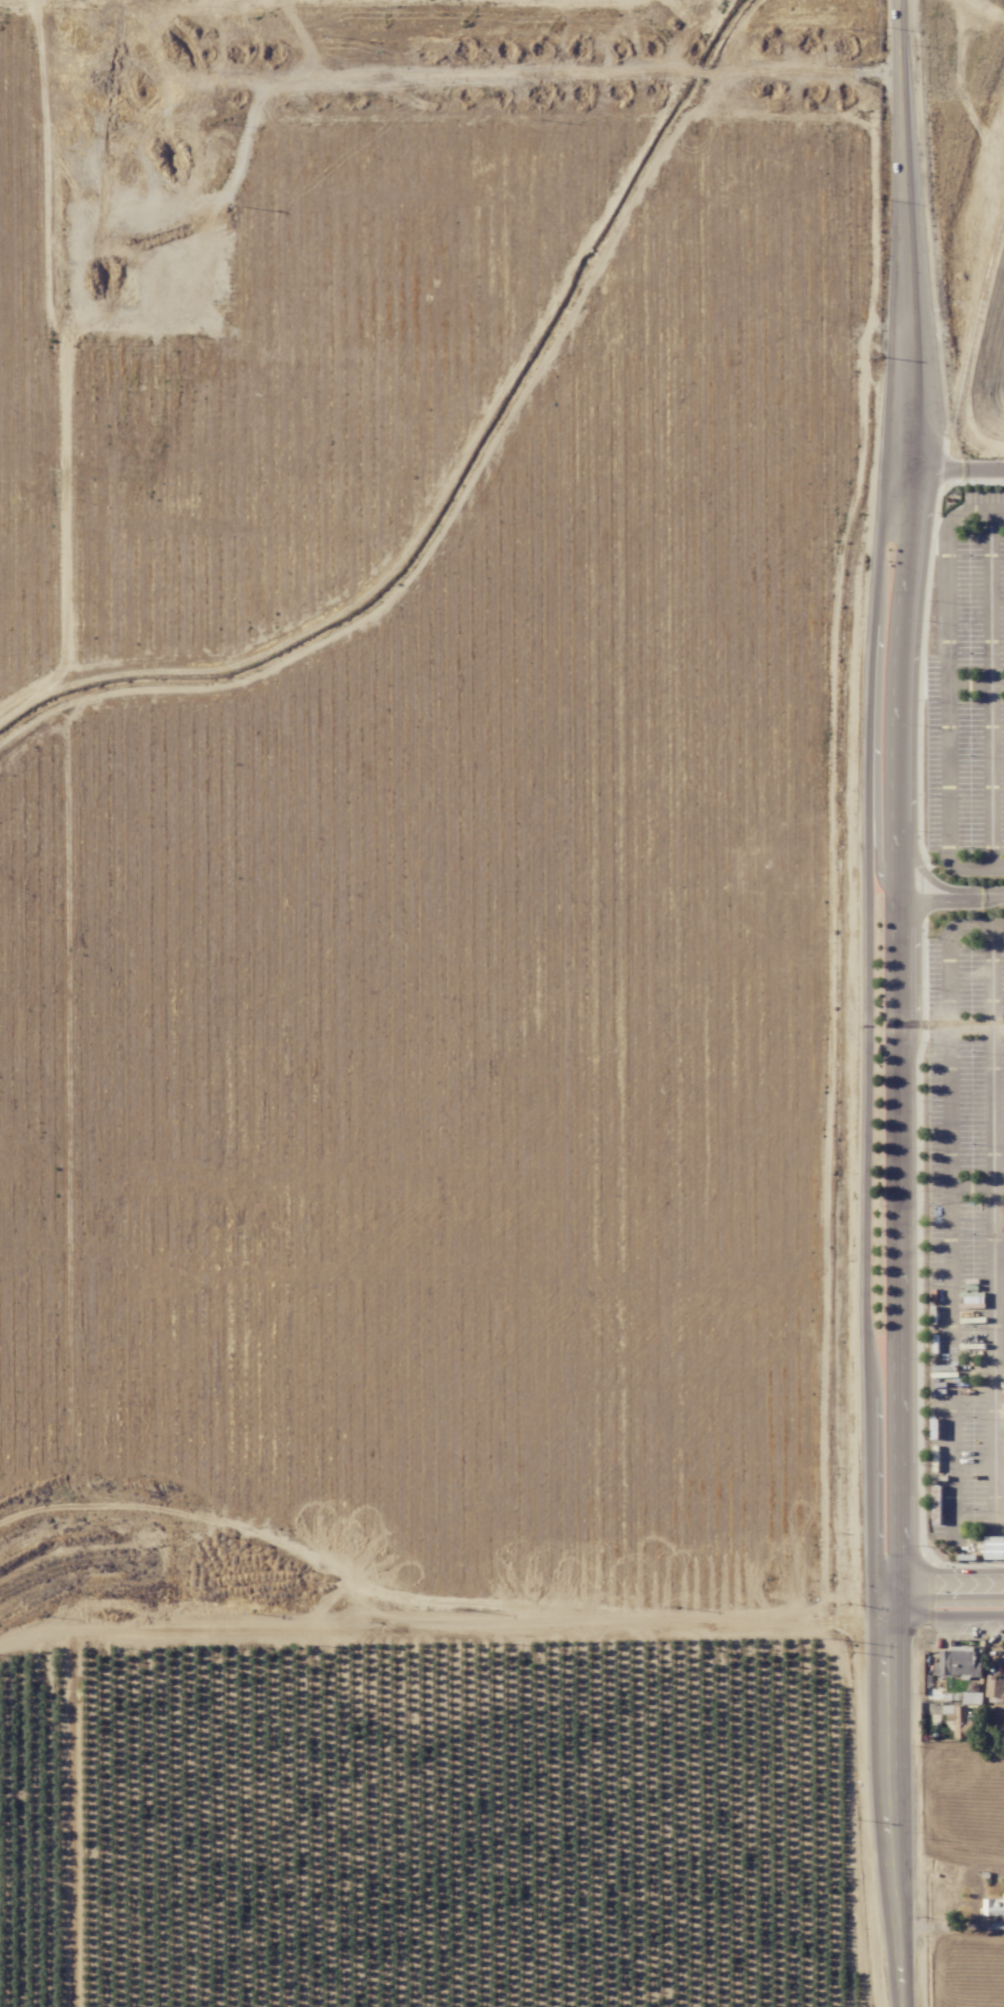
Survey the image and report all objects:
road: (909, 260)
road: (953, 473)
road: (993, 686)
road: (949, 689)
road: (934, 881)
road: (953, 900)
road: (869, 1043)
road: (903, 1044)
road: (950, 1232)
road: (993, 1233)
road: (944, 1587)
road: (945, 1615)
road: (889, 1786)
building: (993, 1907)

